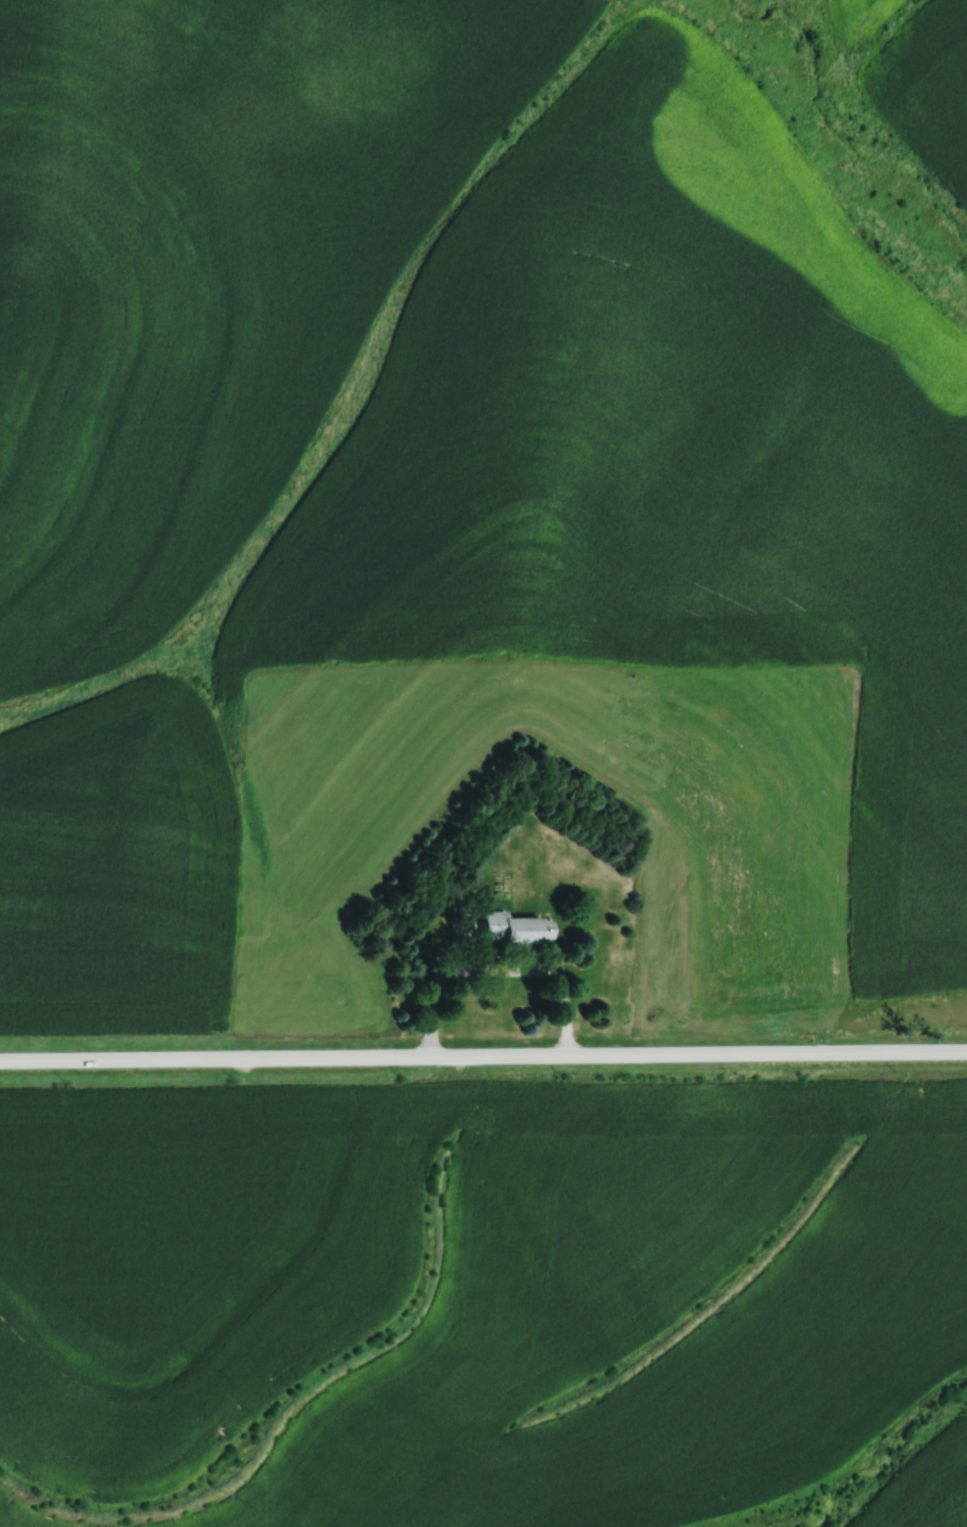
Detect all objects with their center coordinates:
building: (512, 928)
road: (495, 967)
road: (483, 1056)

